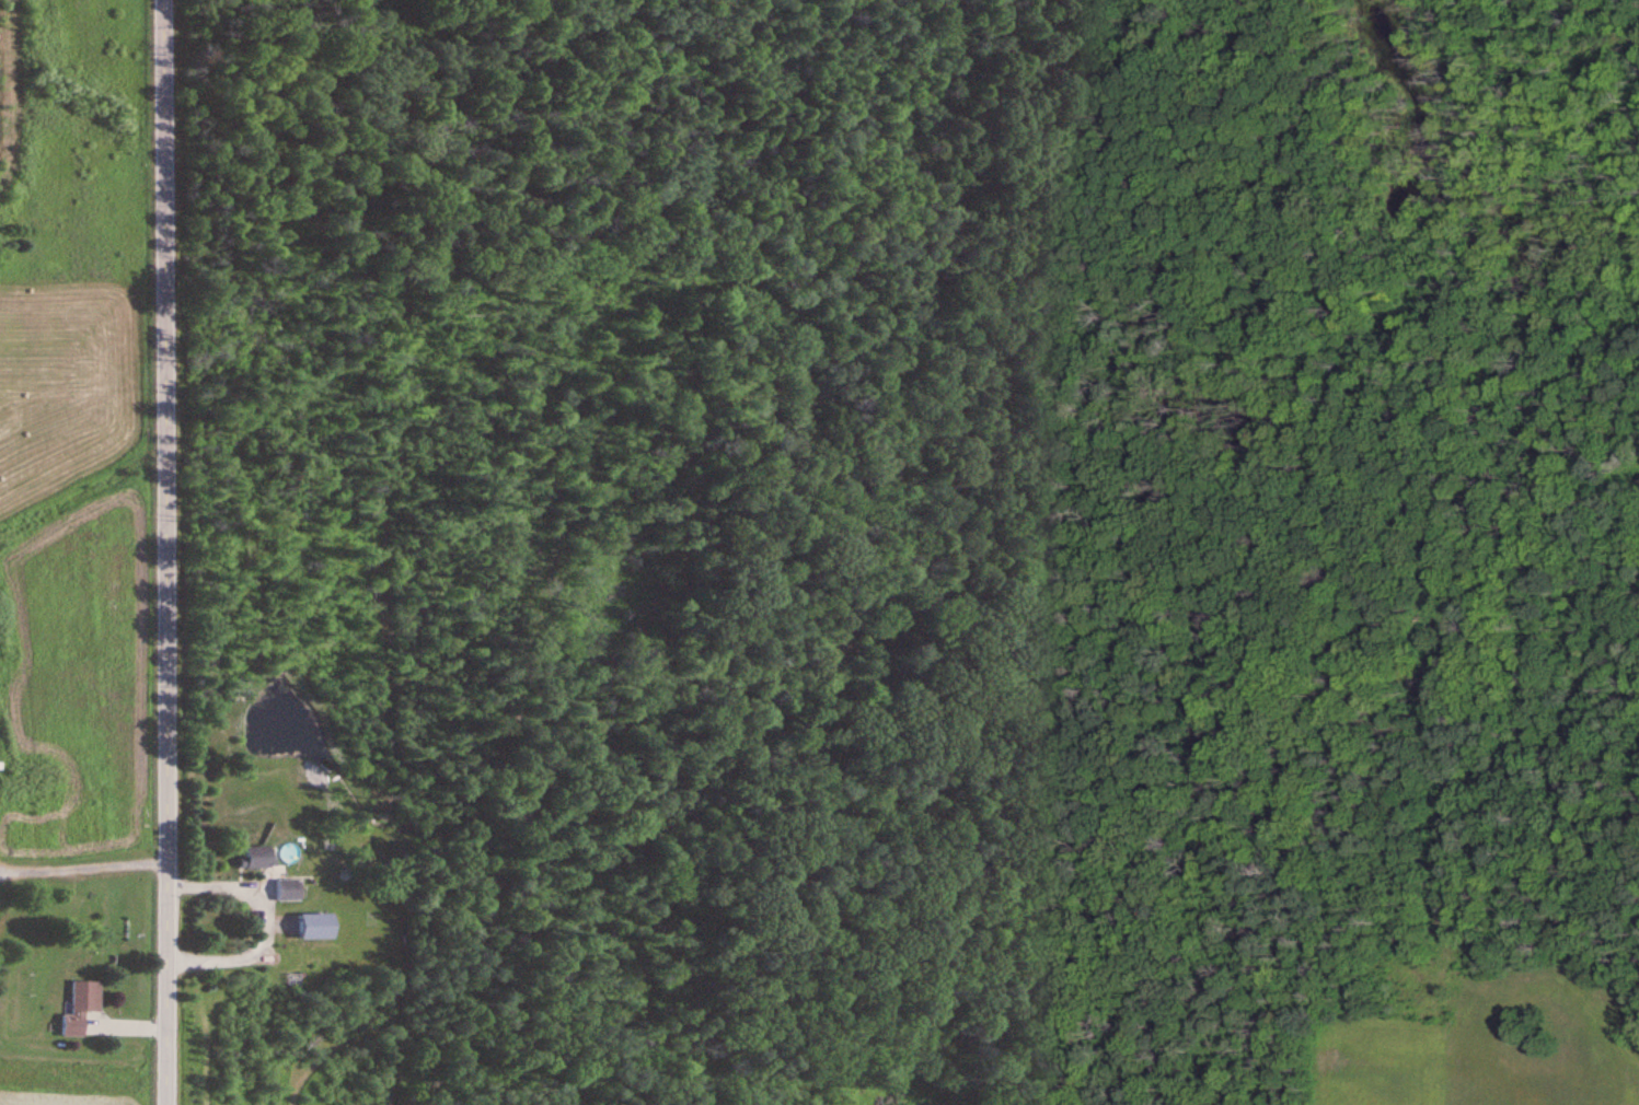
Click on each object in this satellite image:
road: (162, 552)
building: (258, 857)
building: (289, 889)
building: (82, 1004)

